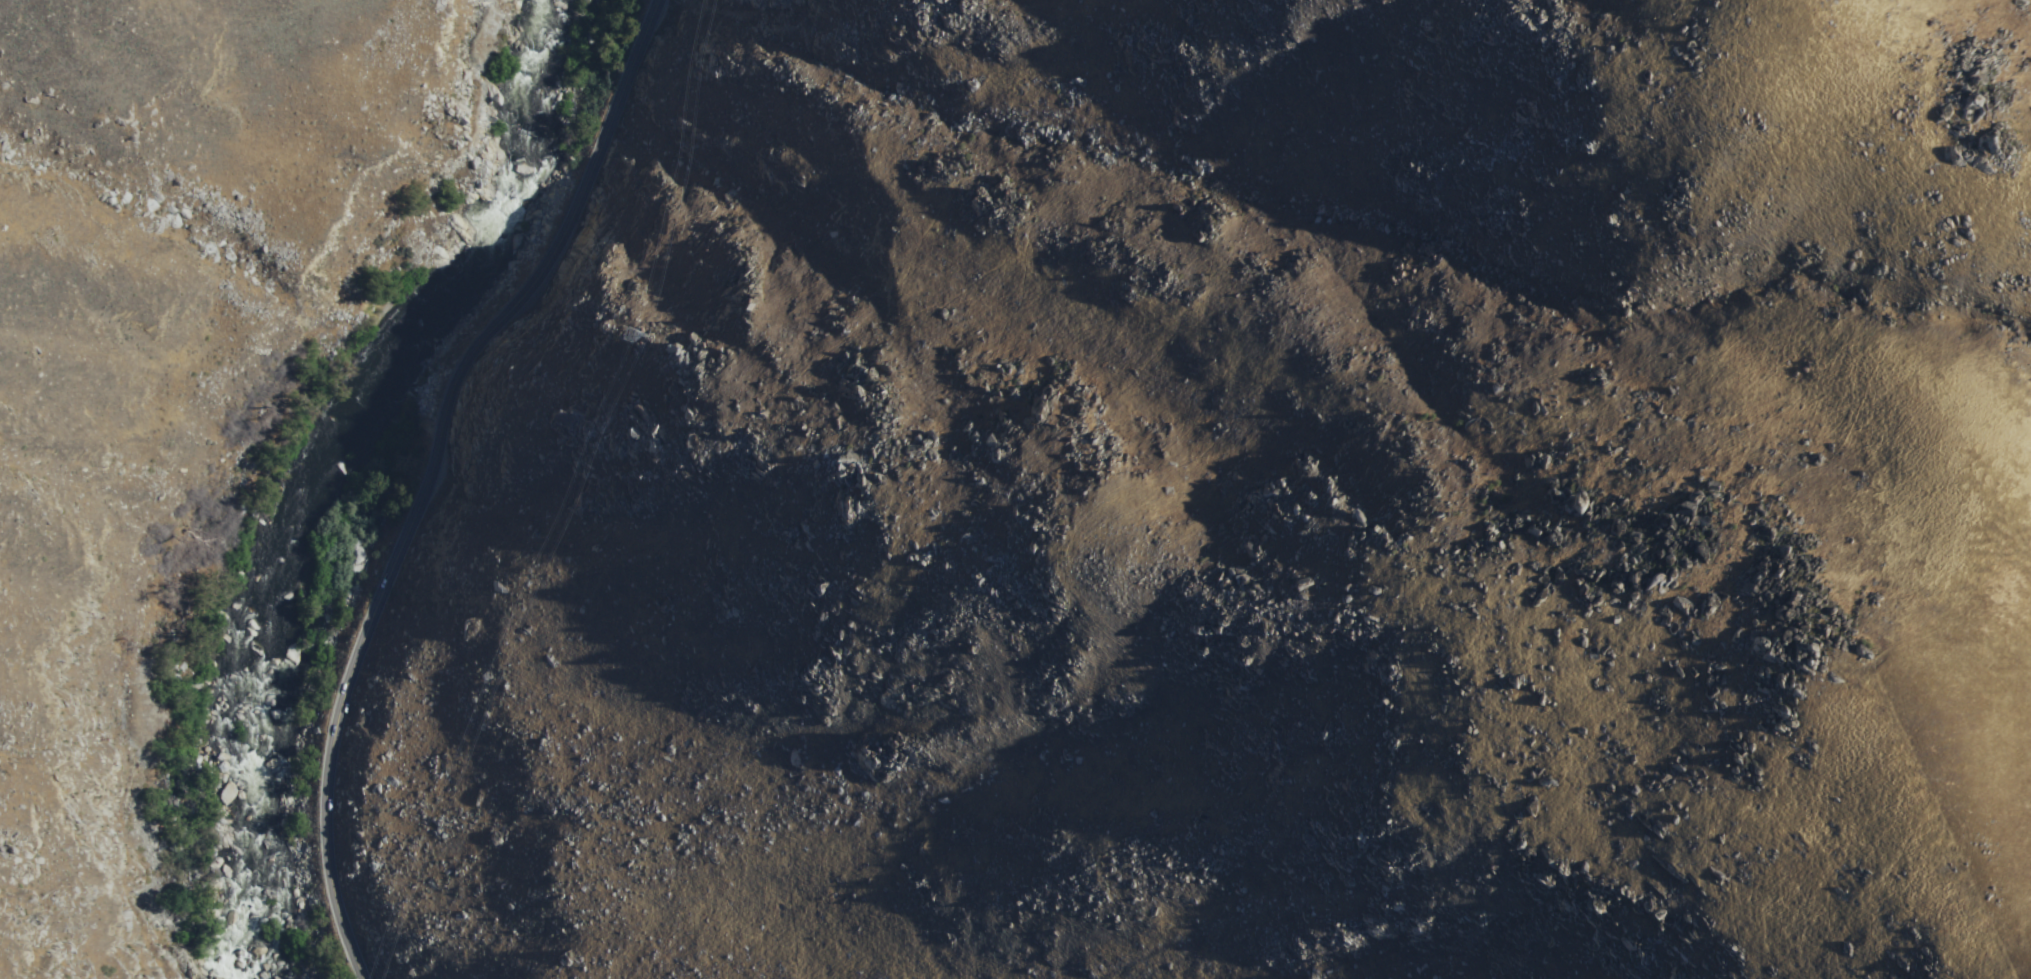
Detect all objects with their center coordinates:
river: (321, 465)
road: (422, 472)

